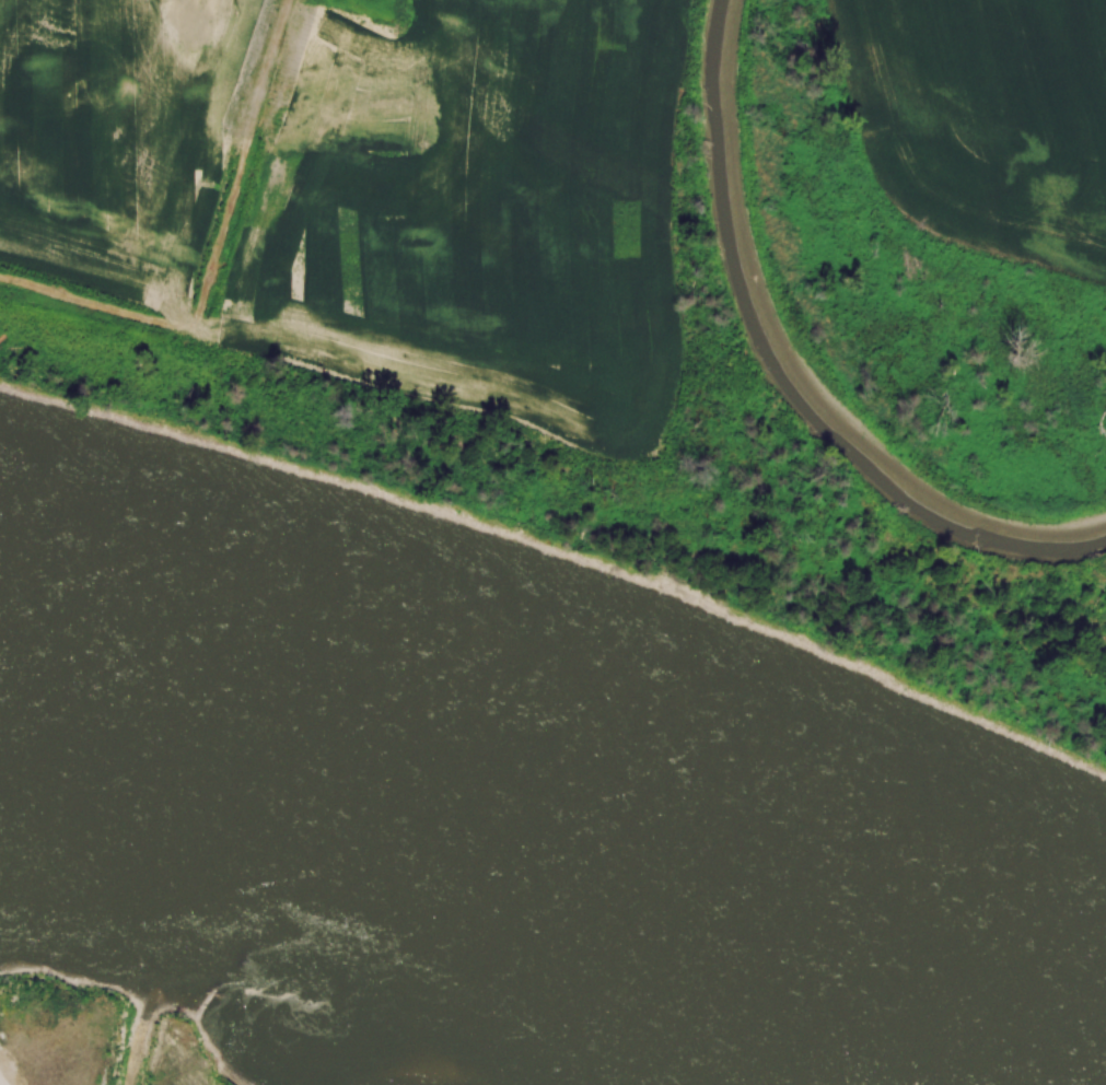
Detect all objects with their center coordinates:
river: (799, 360)
river: (559, 849)

